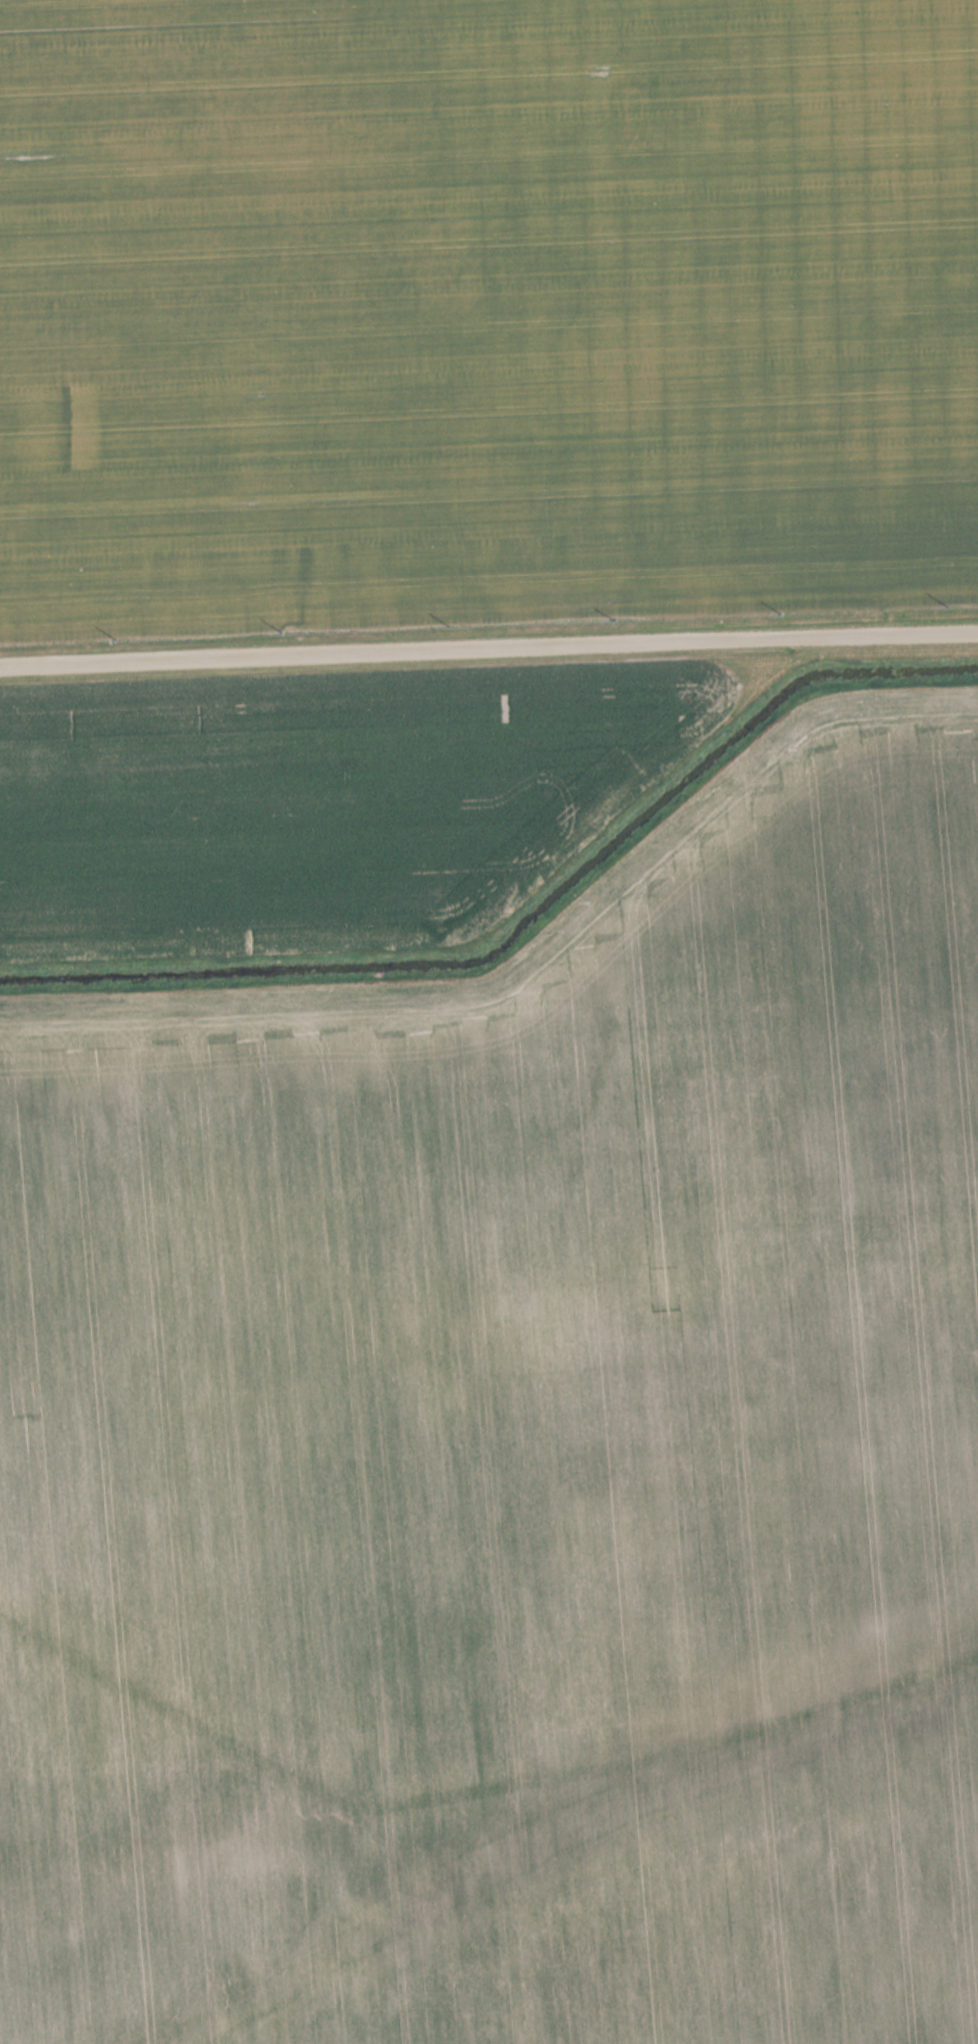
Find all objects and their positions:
road: (489, 652)

